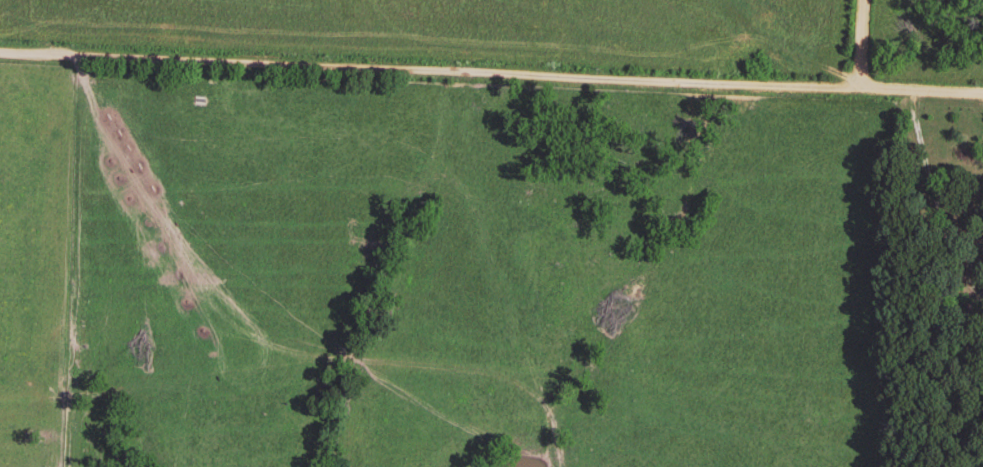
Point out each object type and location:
road: (861, 43)
road: (491, 77)

